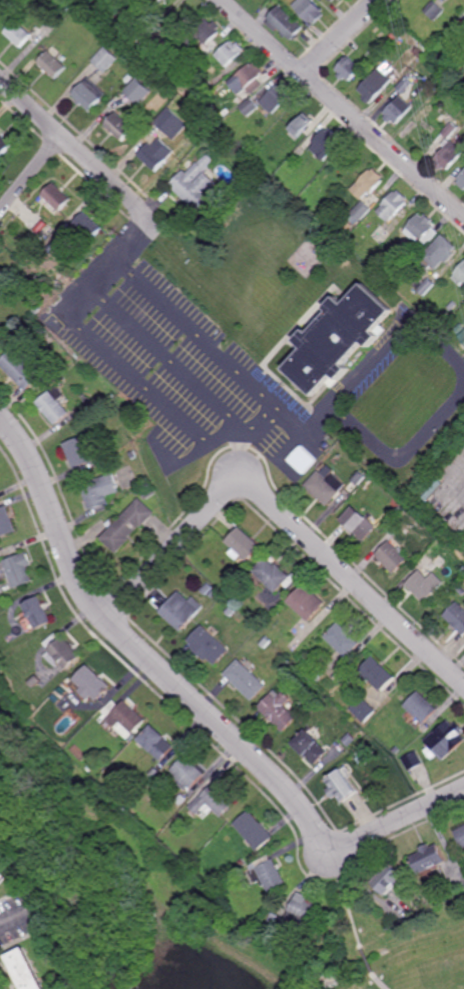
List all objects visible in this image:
building: (340, 0)
building: (1, 1)
building: (333, 1)
building: (154, 2)
building: (310, 10)
building: (434, 11)
building: (285, 23)
building: (47, 27)
building: (204, 33)
building: (18, 34)
road: (341, 35)
building: (158, 44)
building: (419, 52)
building: (230, 53)
building: (104, 59)
building: (51, 65)
building: (348, 71)
building: (416, 73)
power tower: (422, 78)
building: (248, 79)
building: (124, 82)
building: (406, 84)
building: (374, 86)
building: (137, 91)
building: (87, 94)
building: (276, 98)
building: (250, 107)
building: (397, 108)
road: (343, 109)
building: (207, 110)
building: (171, 122)
building: (118, 125)
building: (302, 125)
building: (453, 126)
building: (327, 142)
building: (4, 145)
building: (301, 151)
road: (80, 153)
building: (154, 153)
building: (448, 153)
road: (30, 173)
building: (461, 179)
building: (195, 182)
building: (367, 182)
building: (56, 196)
building: (392, 204)
building: (361, 210)
building: (36, 223)
building: (87, 225)
building: (421, 228)
building: (379, 234)
building: (351, 241)
building: (55, 248)
building: (436, 252)
building: (404, 260)
road: (110, 262)
building: (459, 274)
building: (448, 277)
building: (37, 279)
building: (425, 286)
building: (451, 305)
building: (0, 329)
road: (405, 329)
building: (459, 329)
road: (197, 333)
building: (461, 336)
building: (338, 338)
road: (444, 347)
road: (167, 358)
parking lot: (178, 366)
building: (23, 368)
building: (60, 379)
road: (163, 402)
building: (54, 405)
road: (340, 405)
building: (78, 451)
building: (132, 455)
road: (405, 455)
building: (331, 457)
road: (238, 459)
building: (302, 460)
building: (324, 470)
building: (358, 478)
building: (324, 487)
building: (99, 490)
building: (389, 508)
road: (283, 516)
building: (6, 522)
building: (357, 524)
building: (126, 525)
building: (242, 545)
building: (391, 557)
building: (18, 570)
building: (272, 574)
building: (425, 583)
building: (206, 588)
building: (461, 590)
building: (213, 593)
building: (307, 603)
building: (181, 611)
building: (231, 611)
building: (35, 615)
building: (456, 618)
building: (344, 639)
building: (264, 641)
building: (207, 646)
road: (138, 650)
building: (62, 651)
building: (319, 674)
building: (379, 674)
building: (244, 680)
building: (34, 681)
building: (91, 685)
building: (62, 691)
building: (421, 708)
building: (278, 710)
building: (364, 710)
building: (123, 719)
building: (422, 730)
building: (445, 739)
building: (350, 740)
building: (156, 744)
building: (311, 748)
building: (78, 752)
building: (413, 760)
building: (92, 765)
building: (154, 771)
building: (187, 773)
building: (340, 783)
building: (181, 799)
building: (213, 801)
building: (175, 805)
building: (179, 818)
road: (395, 821)
building: (254, 830)
building: (460, 834)
building: (427, 856)
building: (268, 873)
building: (3, 875)
building: (387, 877)
building: (455, 888)
park: (171, 896)
building: (296, 914)
road: (354, 922)
building: (327, 938)
building: (26, 969)

